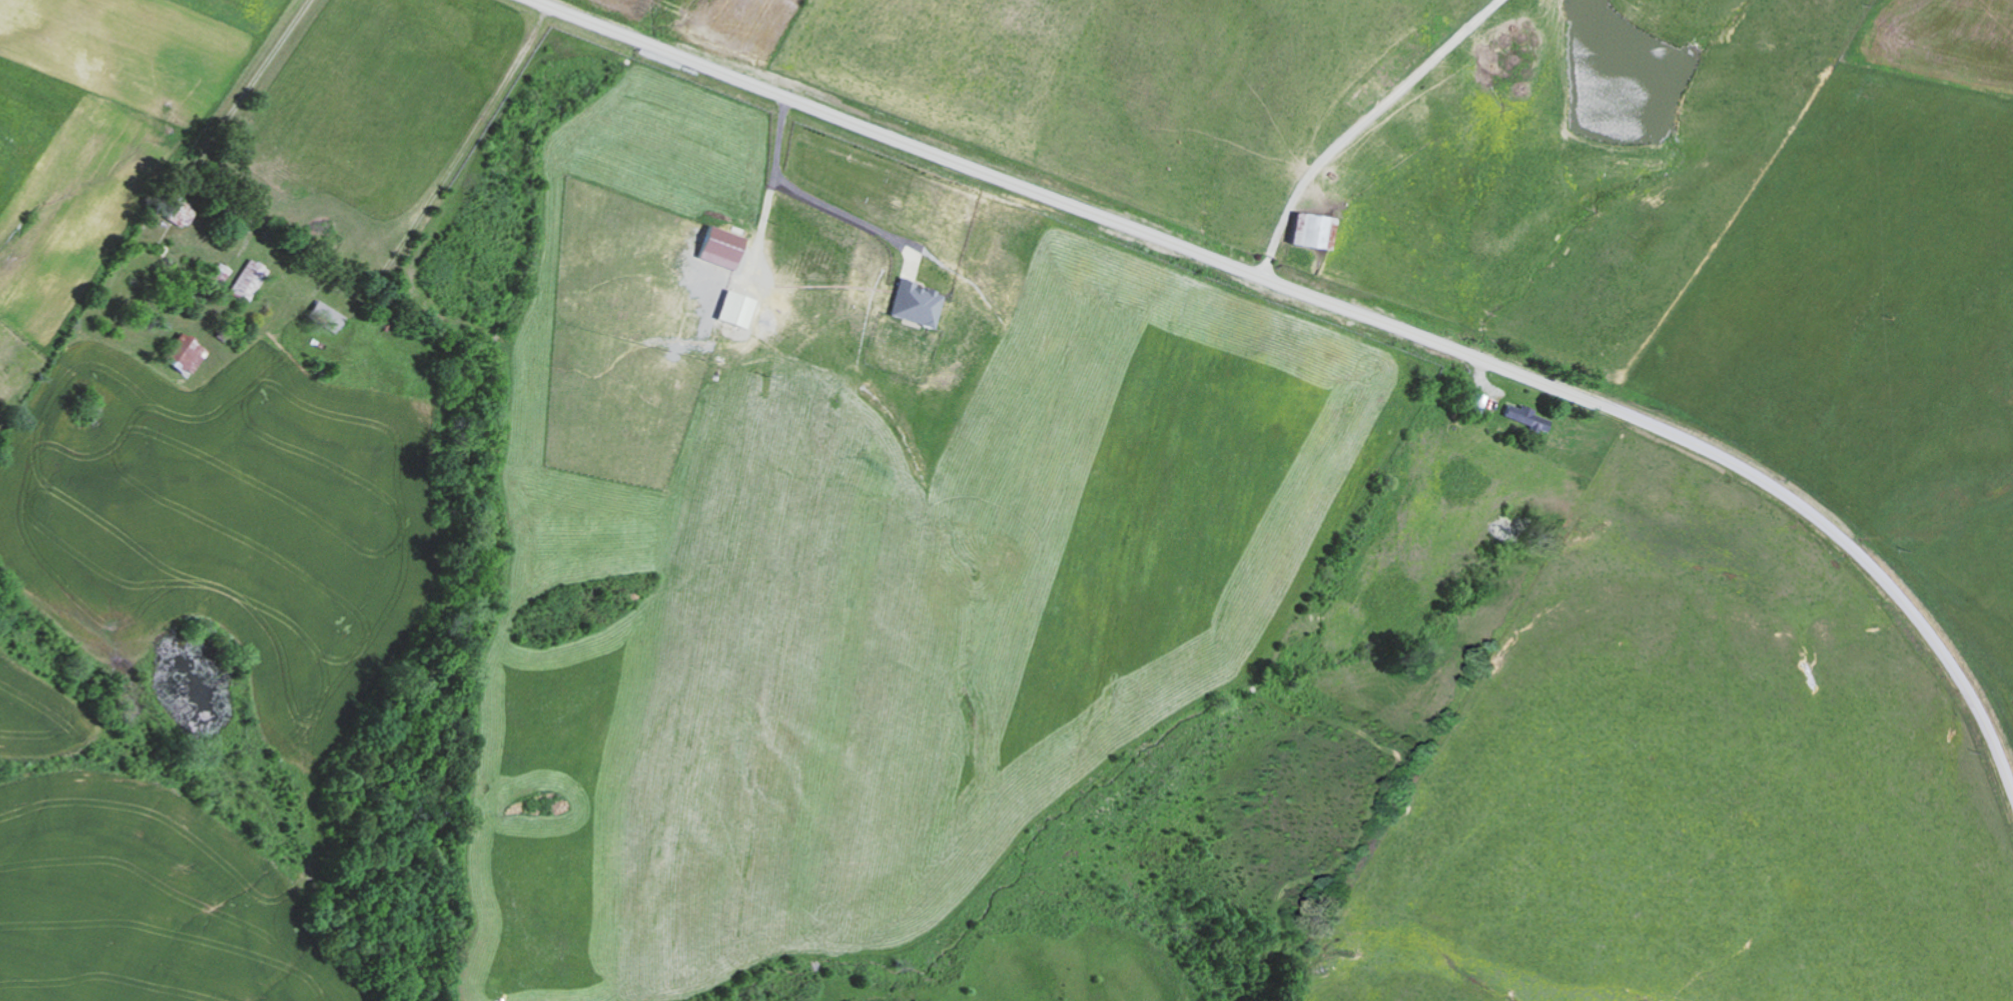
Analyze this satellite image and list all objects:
road: (218, 90)
road: (1361, 124)
road: (814, 196)
building: (181, 212)
building: (1312, 233)
building: (721, 247)
building: (221, 273)
building: (250, 280)
building: (916, 304)
road: (1338, 307)
building: (737, 309)
building: (327, 315)
building: (186, 353)
building: (1478, 402)
building: (1527, 417)

